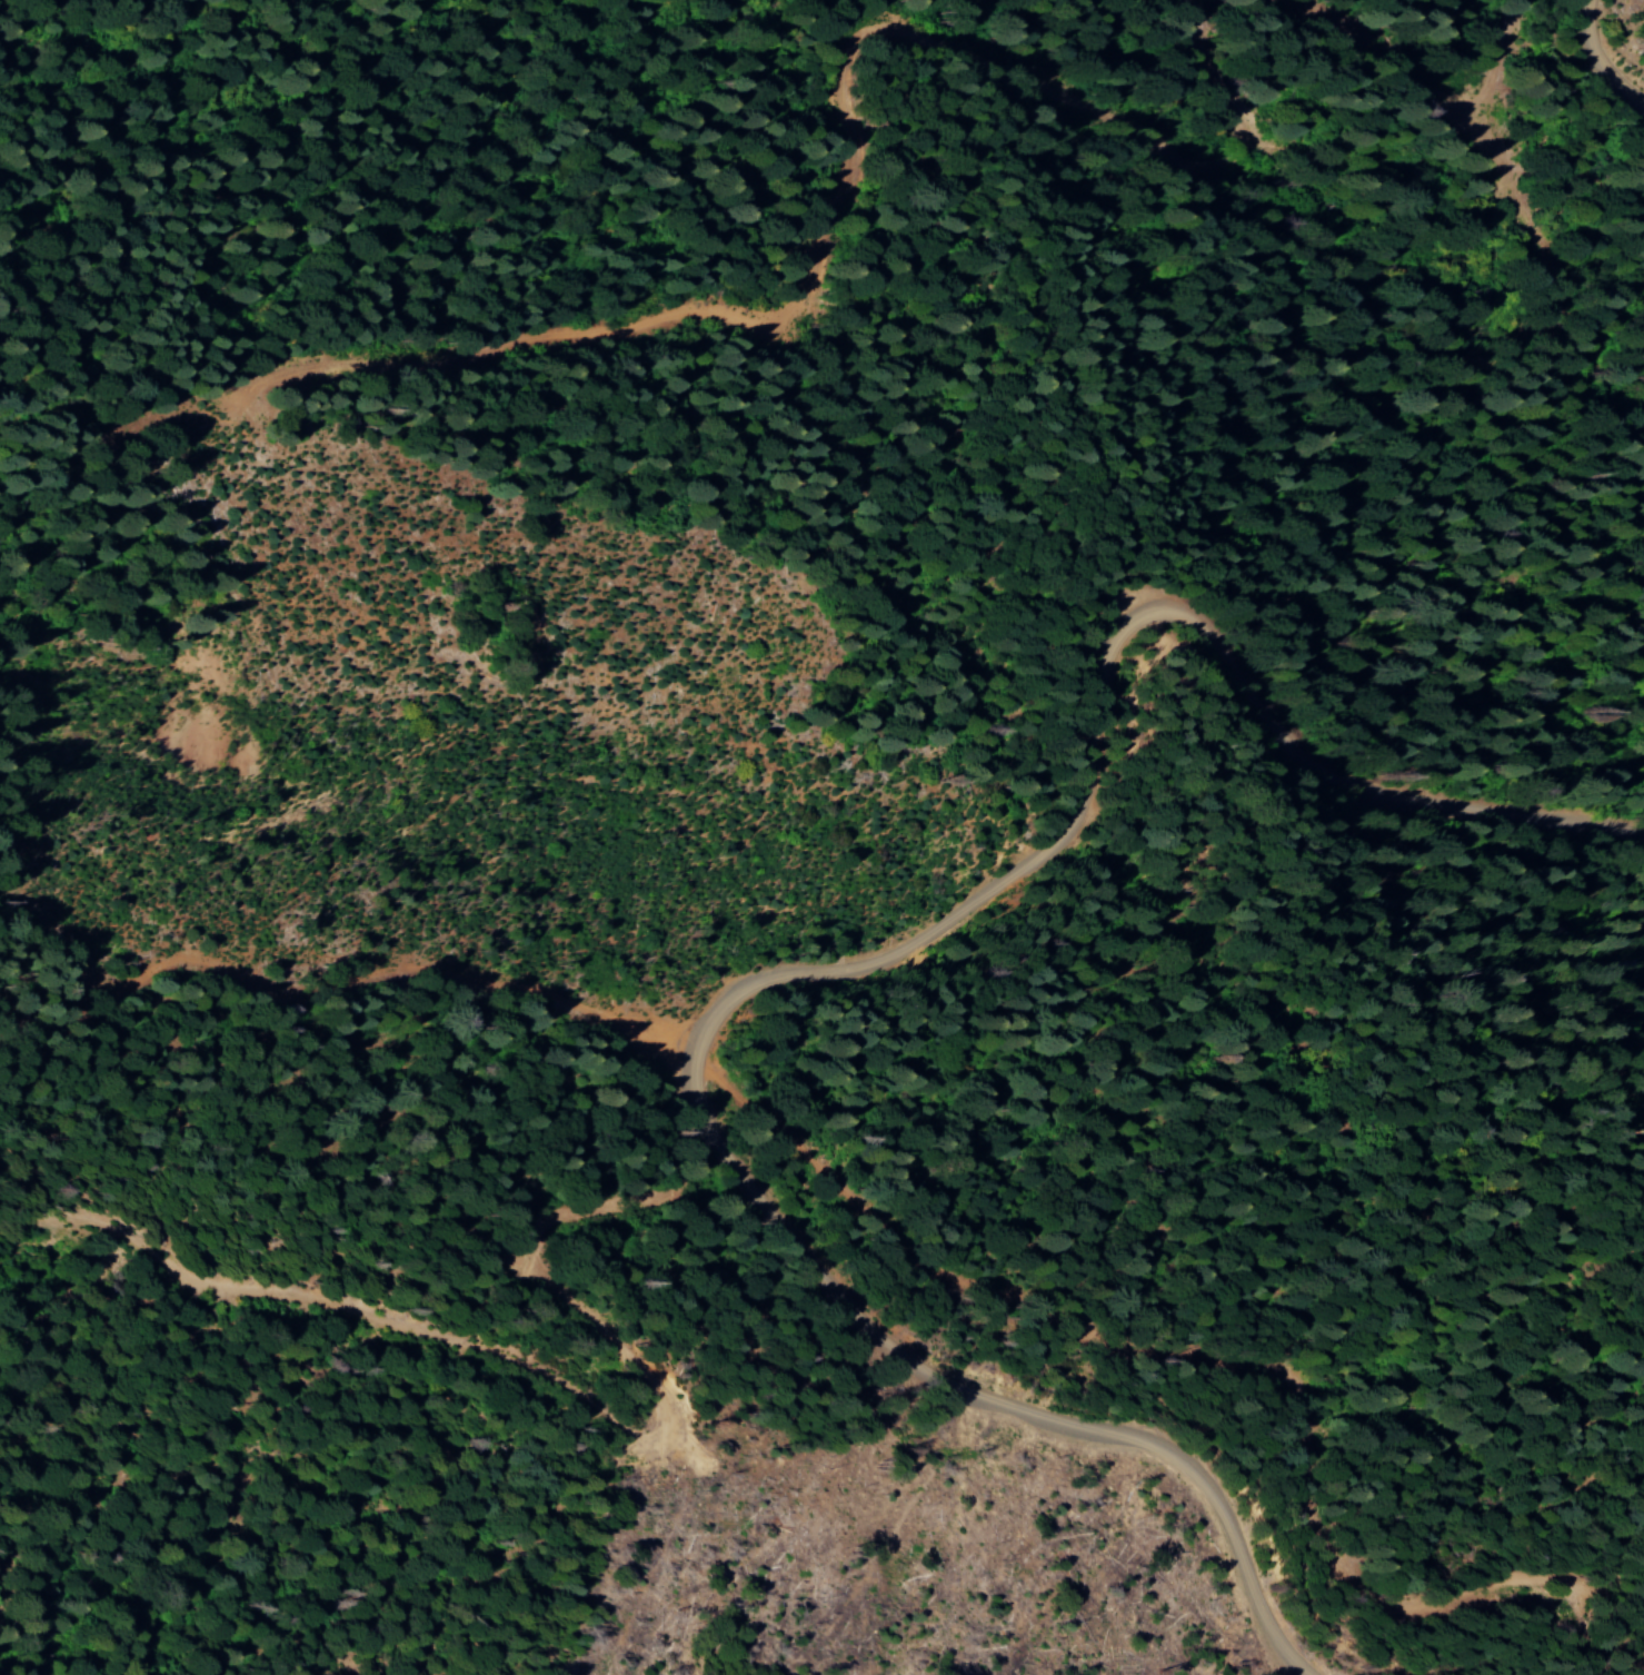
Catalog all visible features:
road: (1598, 65)
road: (829, 977)

